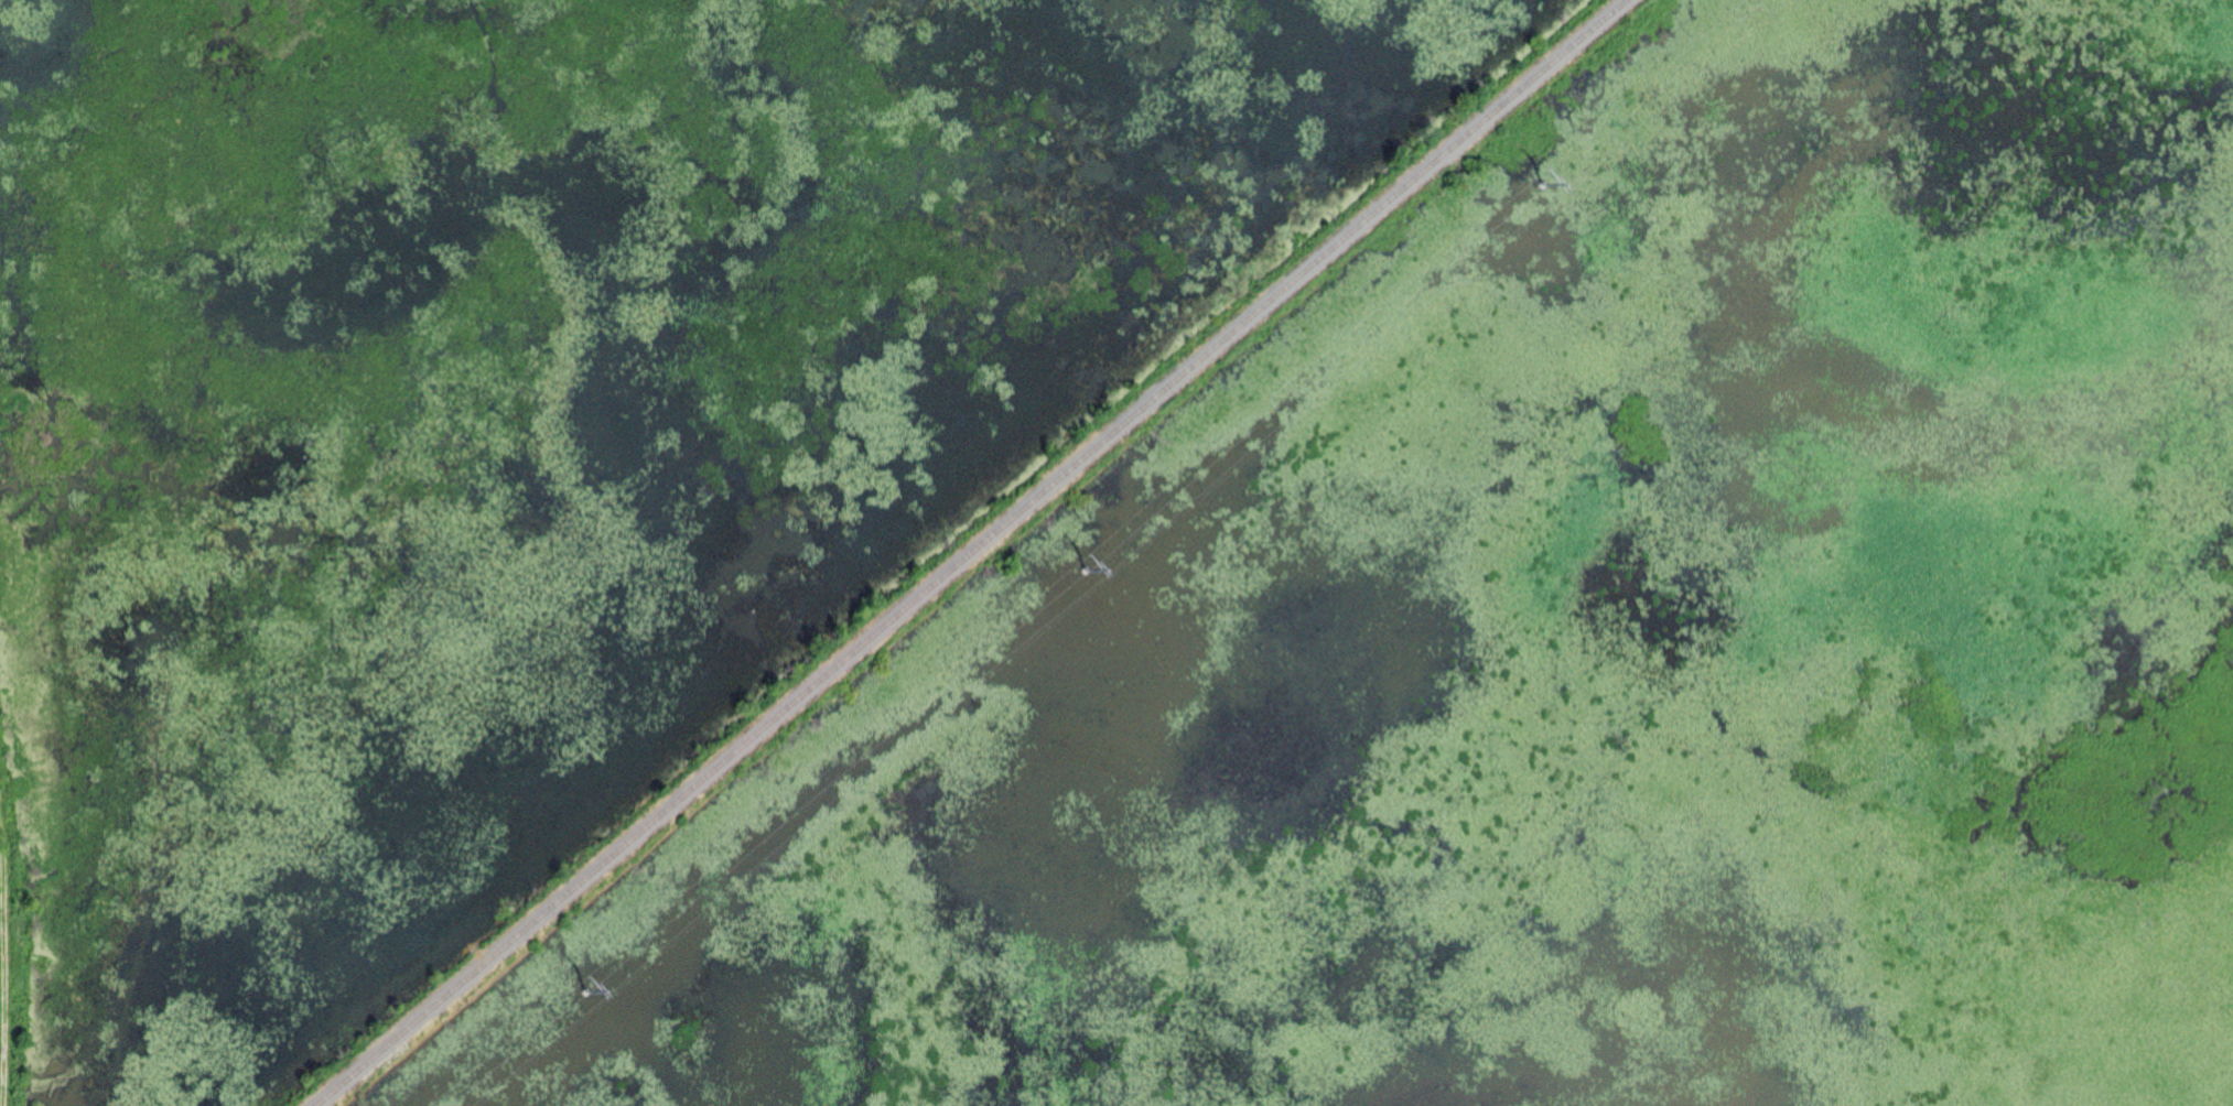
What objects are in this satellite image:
railway: (968, 553)
road: (3, 974)

